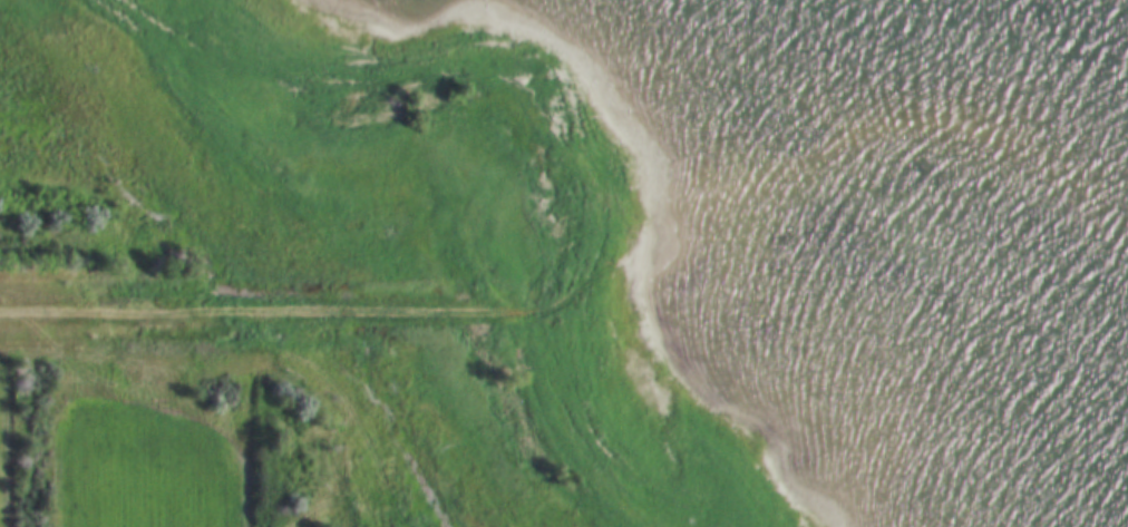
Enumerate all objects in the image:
road: (270, 276)
road: (132, 312)

